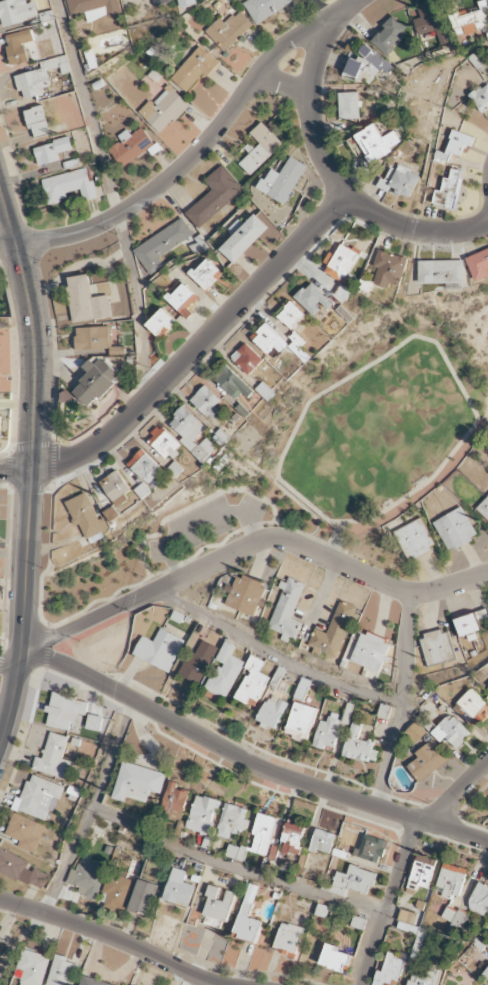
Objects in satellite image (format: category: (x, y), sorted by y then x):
building: (161, 2)
building: (187, 3)
building: (94, 8)
building: (265, 8)
building: (17, 12)
building: (471, 20)
building: (430, 21)
building: (229, 30)
building: (390, 35)
building: (18, 46)
building: (368, 66)
building: (194, 69)
road: (441, 72)
building: (40, 77)
road: (282, 87)
building: (481, 99)
building: (349, 106)
building: (163, 110)
road: (310, 111)
building: (37, 121)
building: (459, 142)
building: (377, 143)
building: (132, 146)
building: (260, 149)
building: (51, 151)
road: (196, 151)
building: (283, 181)
building: (400, 182)
building: (68, 186)
building: (448, 191)
road: (112, 197)
building: (214, 197)
road: (413, 229)
building: (243, 238)
building: (161, 245)
building: (340, 263)
building: (478, 264)
building: (389, 269)
building: (441, 272)
building: (206, 274)
building: (182, 298)
building: (313, 299)
building: (86, 301)
building: (291, 315)
building: (160, 322)
road: (33, 324)
building: (93, 338)
building: (269, 342)
road: (199, 346)
building: (247, 359)
building: (97, 382)
building: (233, 384)
road: (463, 393)
building: (206, 402)
road: (482, 410)
building: (0, 426)
building: (188, 428)
building: (165, 443)
building: (204, 450)
park: (311, 462)
road: (16, 467)
building: (145, 468)
road: (52, 476)
building: (116, 488)
road: (41, 489)
road: (277, 500)
road: (302, 507)
road: (194, 508)
building: (484, 508)
building: (88, 519)
road: (199, 523)
parking lot: (203, 526)
building: (455, 529)
building: (414, 540)
road: (335, 543)
road: (250, 546)
building: (245, 595)
road: (112, 597)
building: (287, 610)
road: (25, 611)
building: (470, 624)
building: (334, 632)
building: (436, 647)
road: (45, 648)
building: (160, 650)
building: (368, 651)
road: (275, 658)
building: (198, 663)
road: (11, 665)
building: (225, 672)
building: (253, 682)
road: (403, 703)
building: (471, 707)
building: (65, 711)
building: (272, 712)
road: (4, 715)
building: (300, 722)
building: (328, 732)
building: (451, 732)
building: (359, 746)
building: (53, 757)
building: (427, 761)
road: (249, 762)
building: (138, 783)
road: (453, 791)
building: (38, 798)
building: (174, 803)
road: (91, 808)
building: (202, 815)
building: (232, 821)
building: (25, 832)
building: (263, 834)
building: (292, 839)
building: (323, 842)
building: (371, 850)
building: (236, 852)
road: (236, 869)
building: (20, 870)
building: (422, 873)
building: (88, 878)
building: (353, 881)
building: (451, 881)
building: (179, 889)
building: (117, 892)
building: (143, 899)
building: (480, 900)
road: (390, 902)
building: (218, 905)
building: (248, 918)
building: (455, 918)
road: (16, 936)
road: (108, 937)
building: (0, 939)
building: (289, 939)
building: (335, 959)
building: (33, 968)
building: (390, 970)
building: (62, 971)
building: (486, 975)
building: (426, 977)
building: (91, 982)

